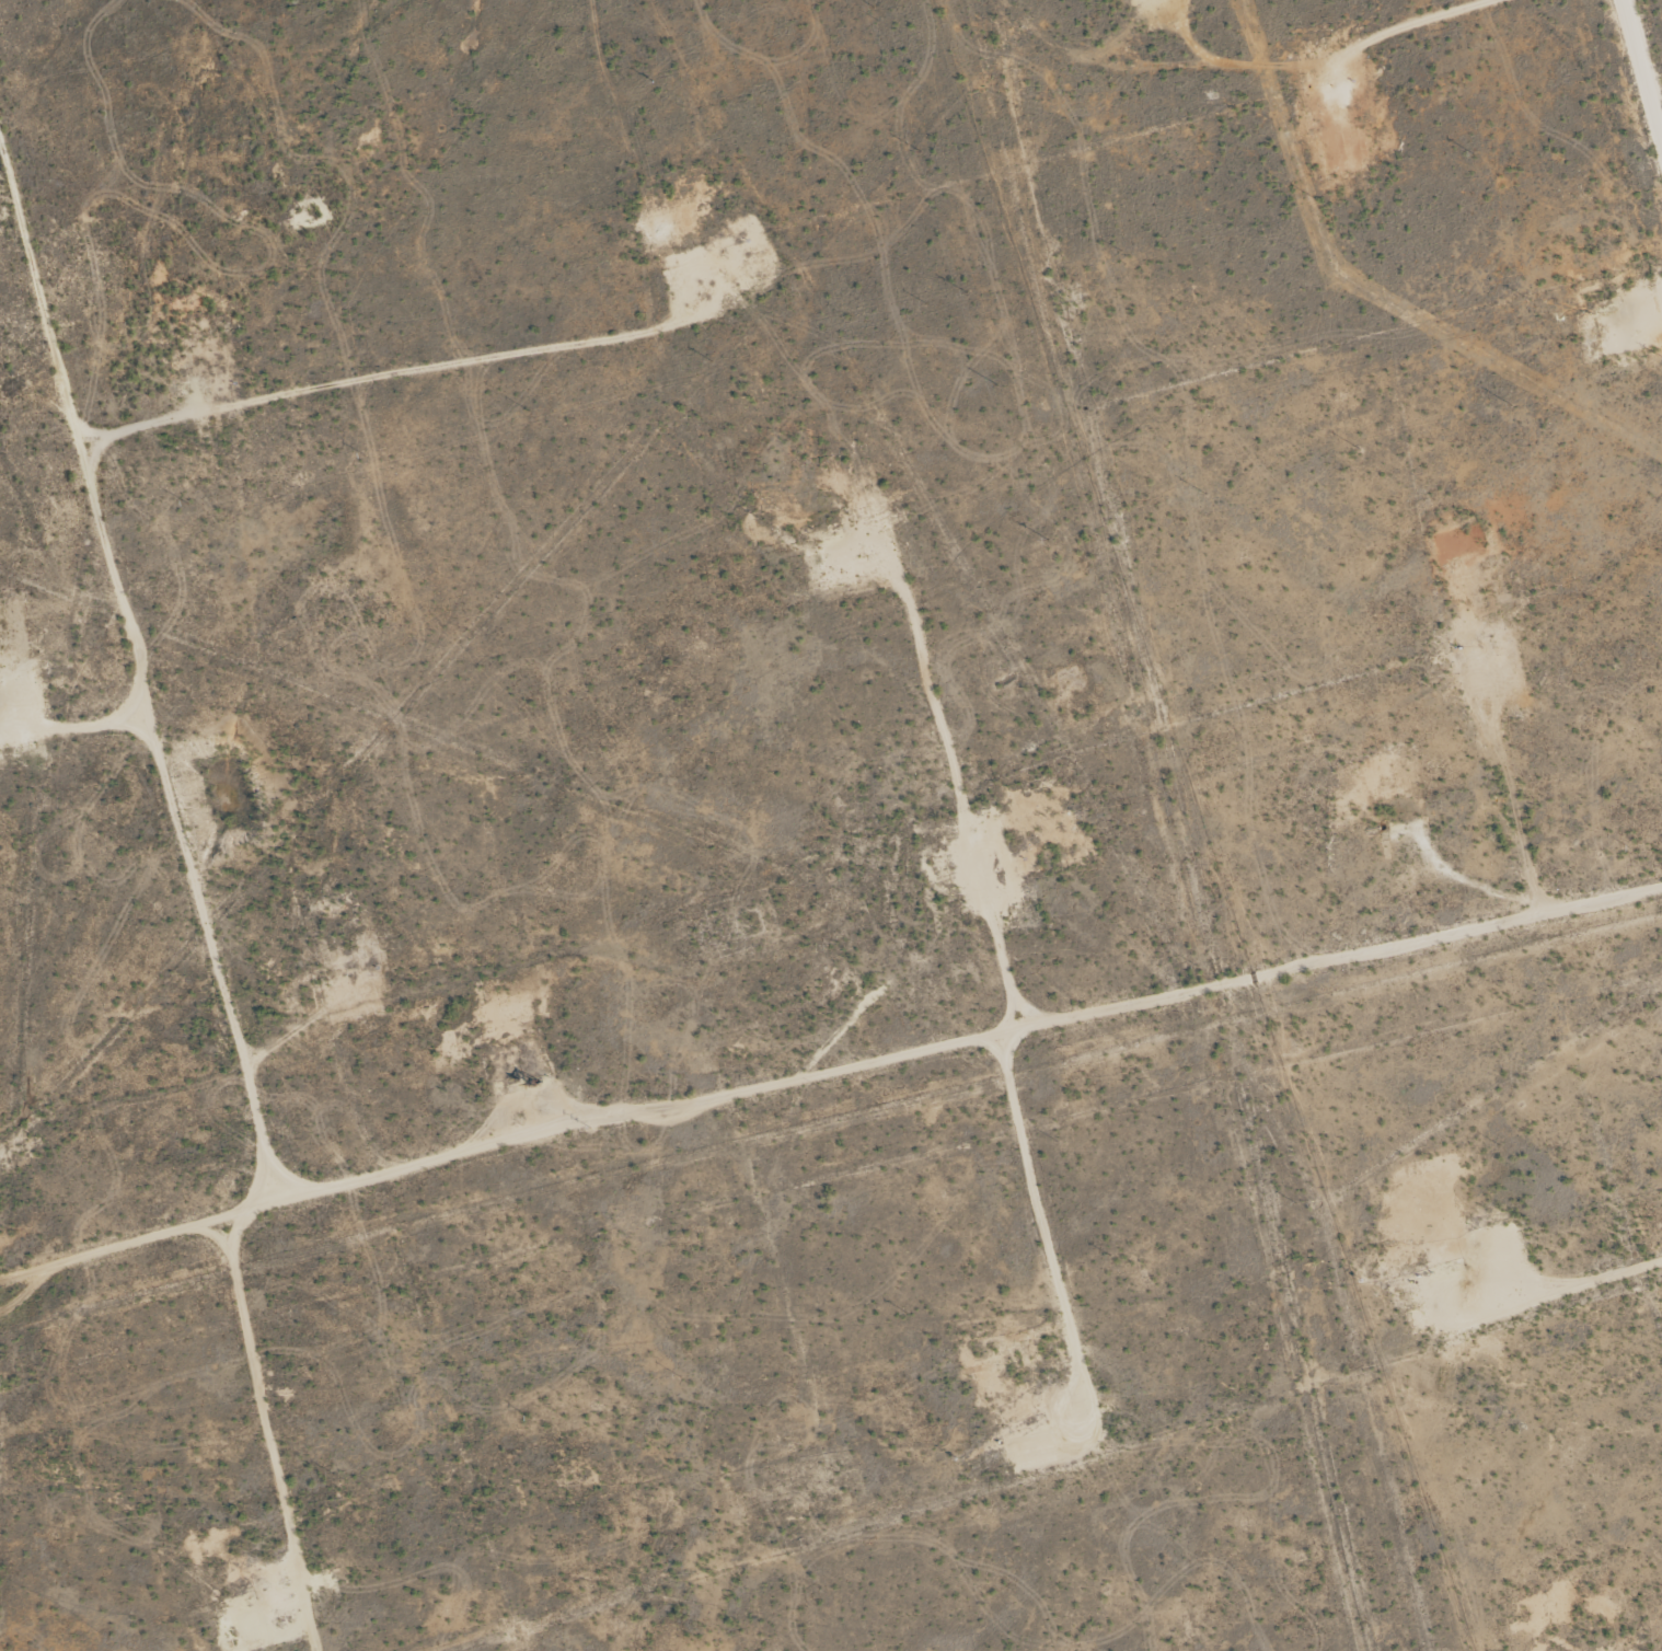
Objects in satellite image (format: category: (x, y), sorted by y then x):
road: (1649, 48)

